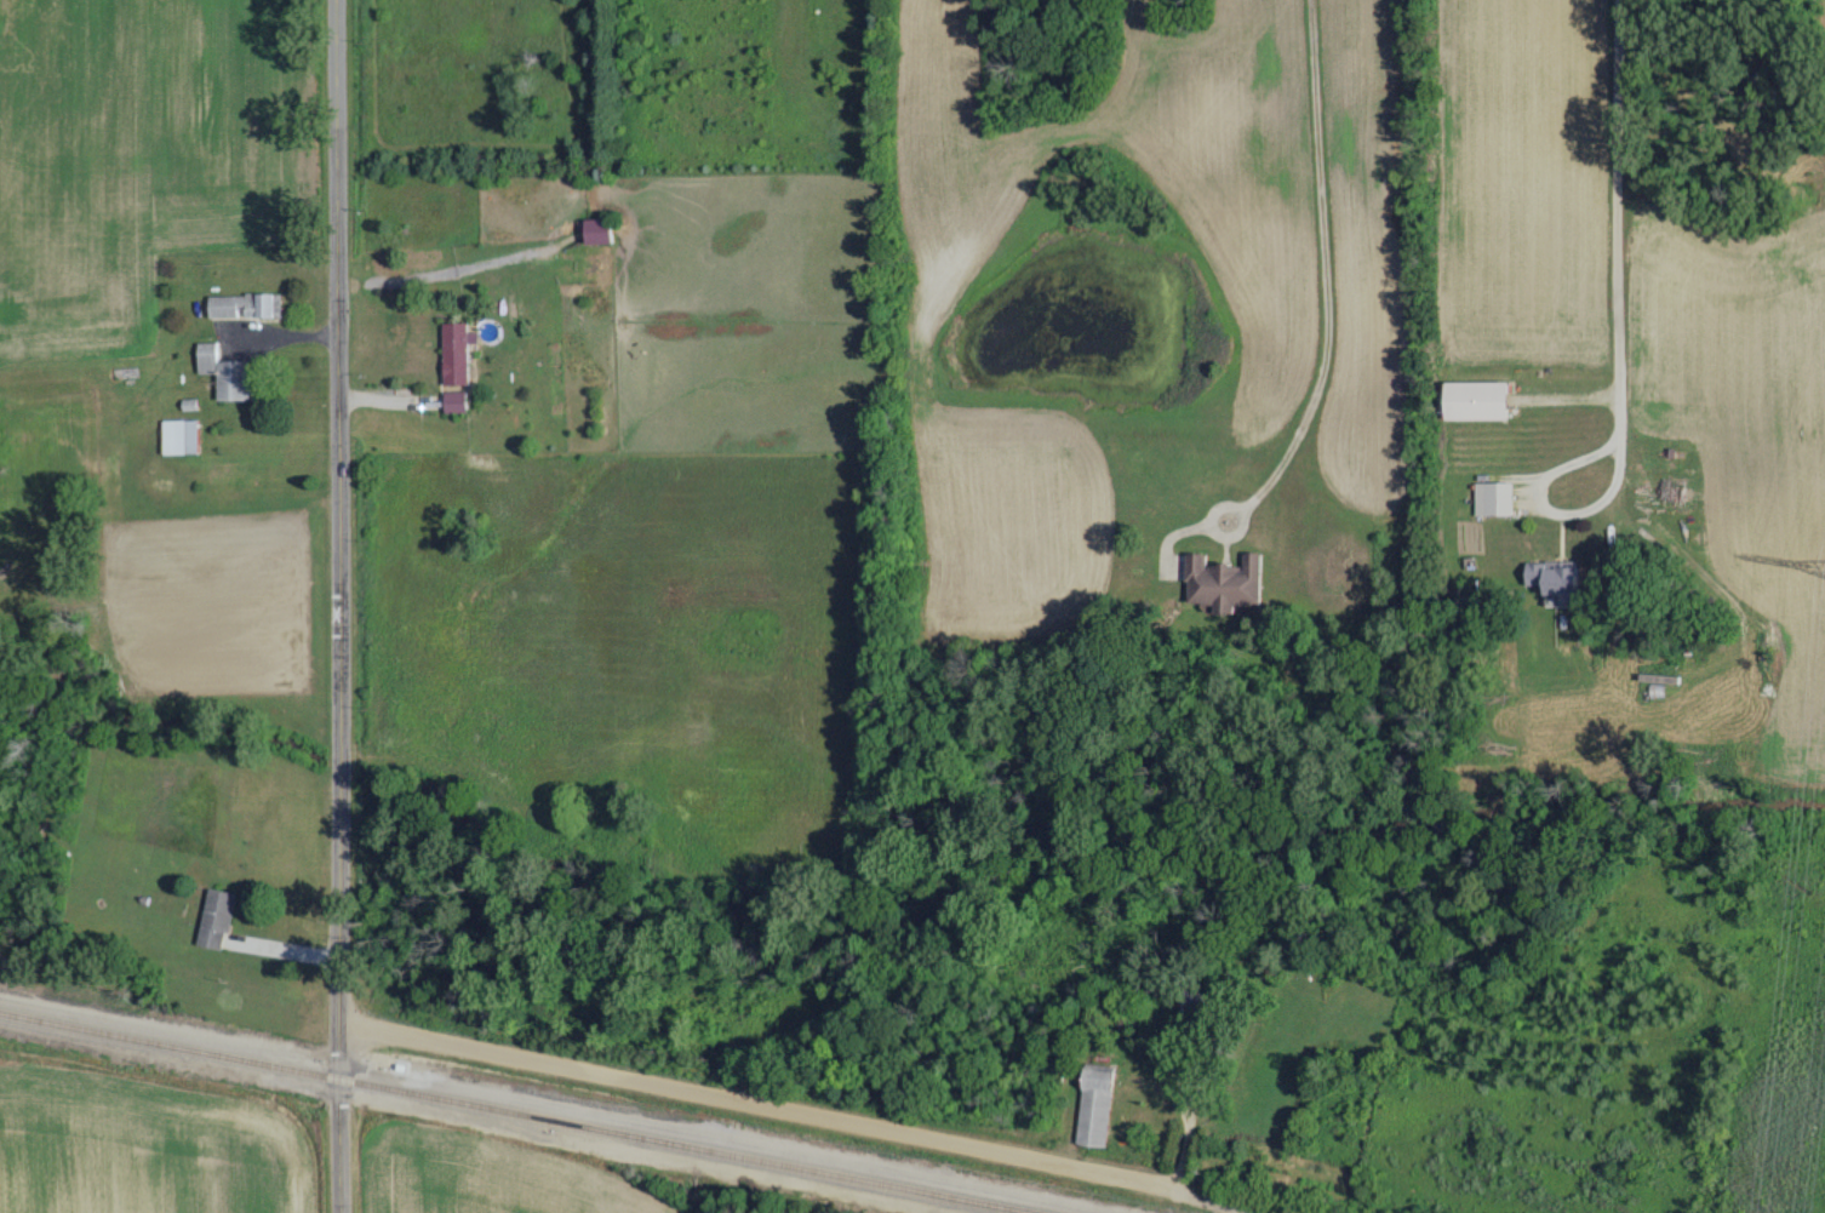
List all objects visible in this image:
road: (1613, 217)
building: (591, 229)
road: (1322, 273)
building: (239, 304)
building: (451, 351)
building: (222, 372)
building: (1475, 399)
building: (450, 401)
building: (176, 434)
building: (1491, 497)
road: (1547, 505)
building: (1552, 576)
building: (1219, 583)
road: (337, 606)
river: (874, 888)
building: (213, 917)
building: (1195, 1006)
road: (757, 1102)
building: (1095, 1105)
railway: (517, 1110)

